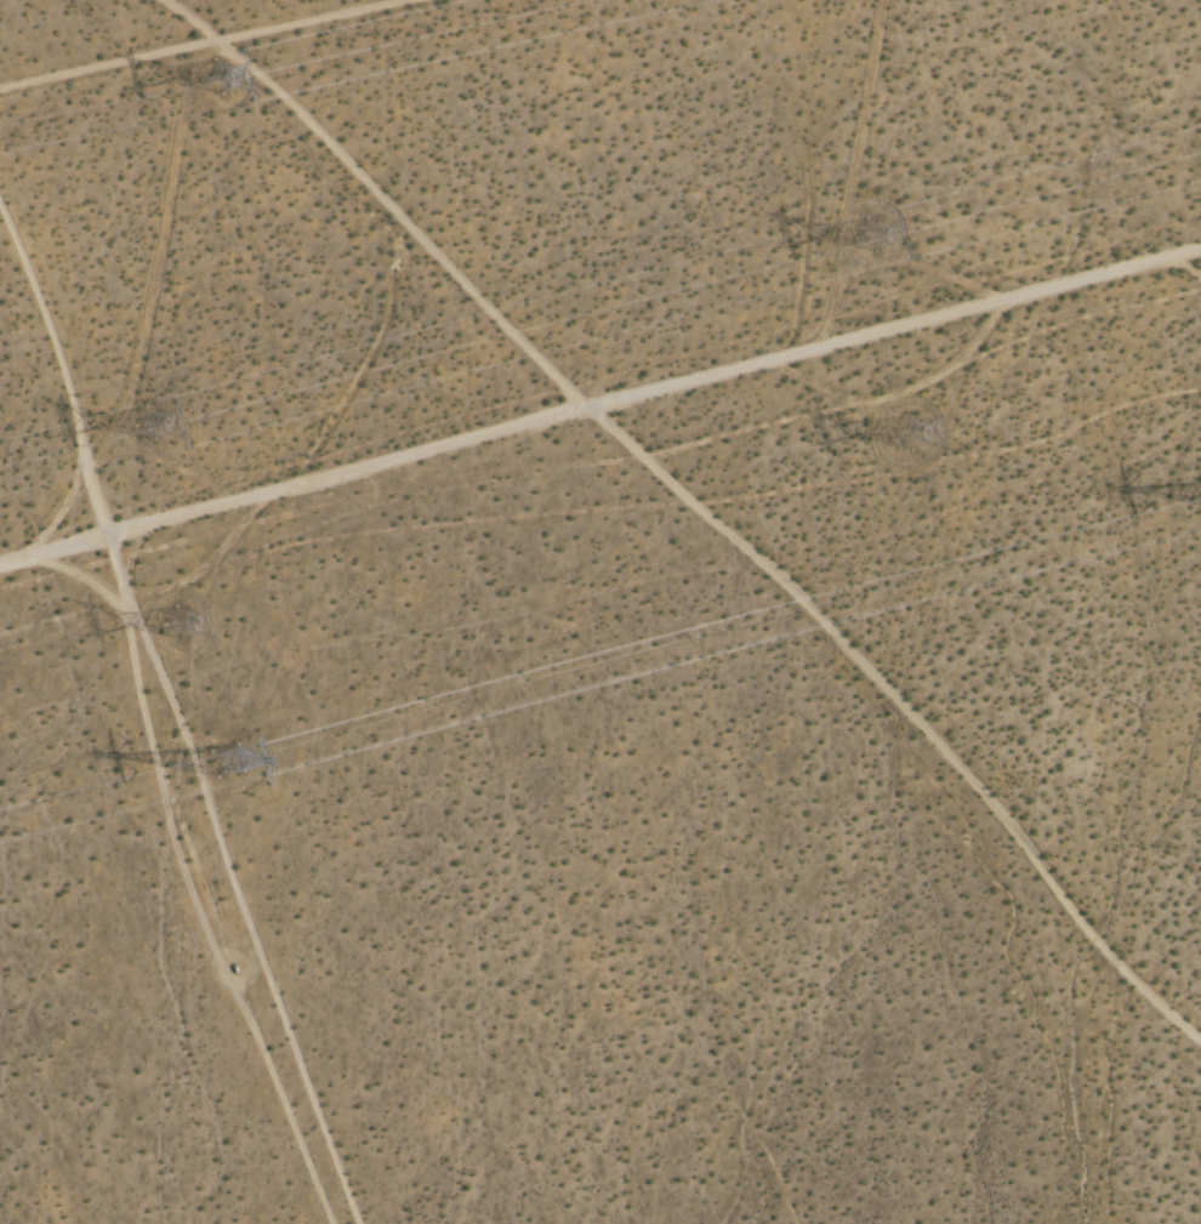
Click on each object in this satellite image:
power tower: (226, 79)
power tower: (870, 229)
road: (900, 324)
power tower: (152, 422)
power tower: (918, 429)
road: (300, 480)
power tower: (188, 626)
power tower: (235, 761)

